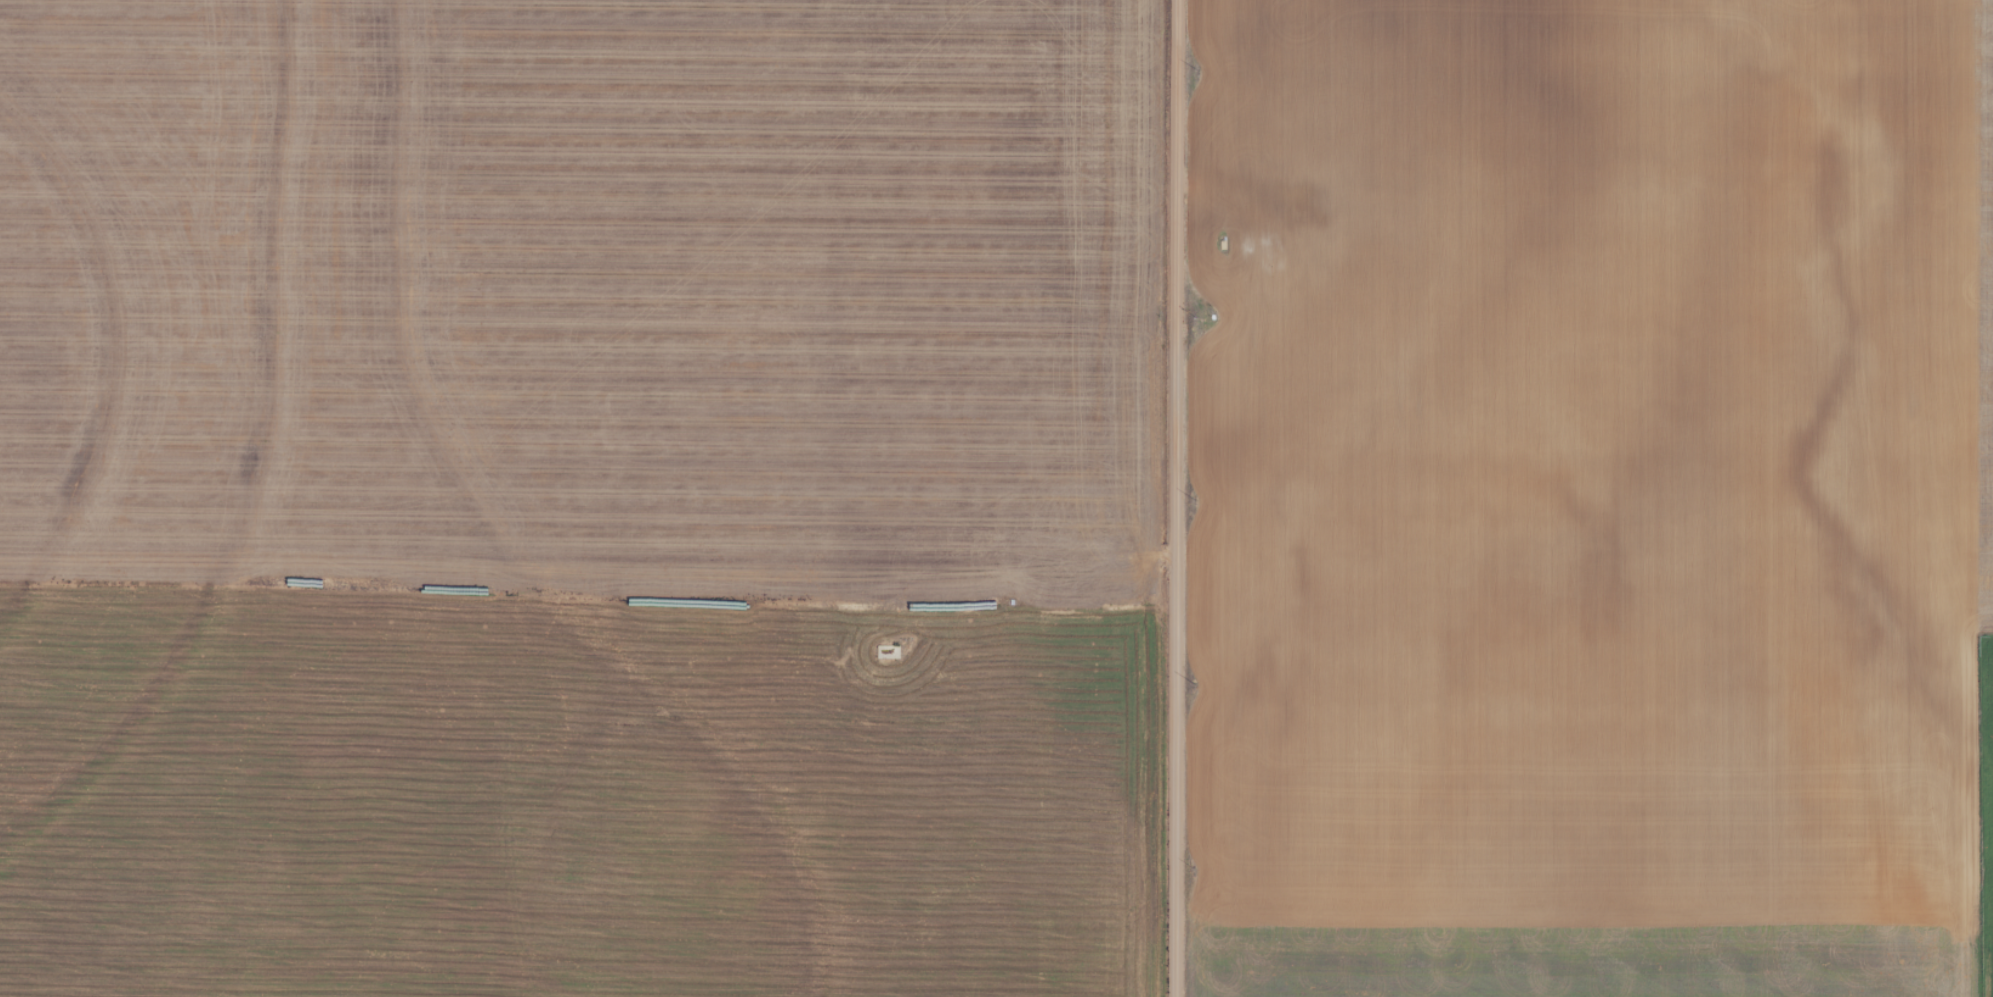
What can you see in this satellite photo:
road: (1161, 498)

